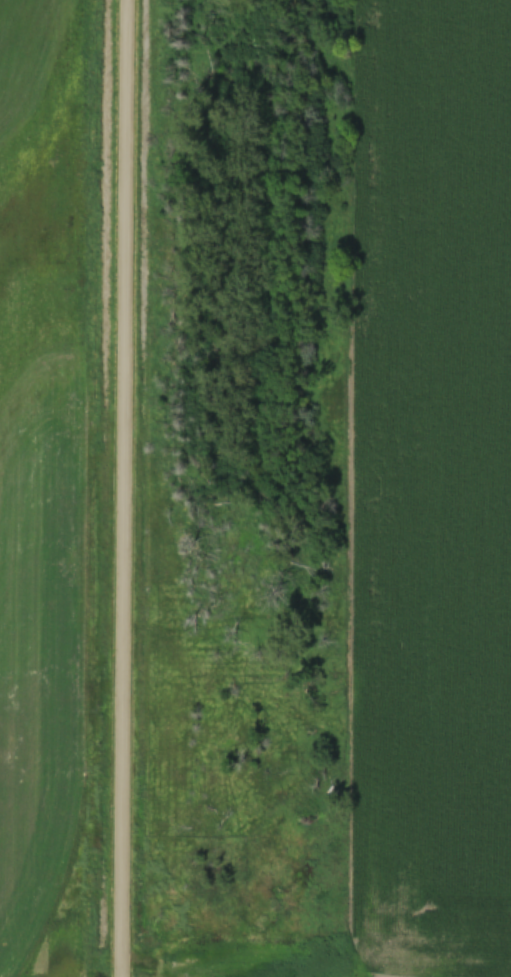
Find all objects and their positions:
road: (115, 488)

